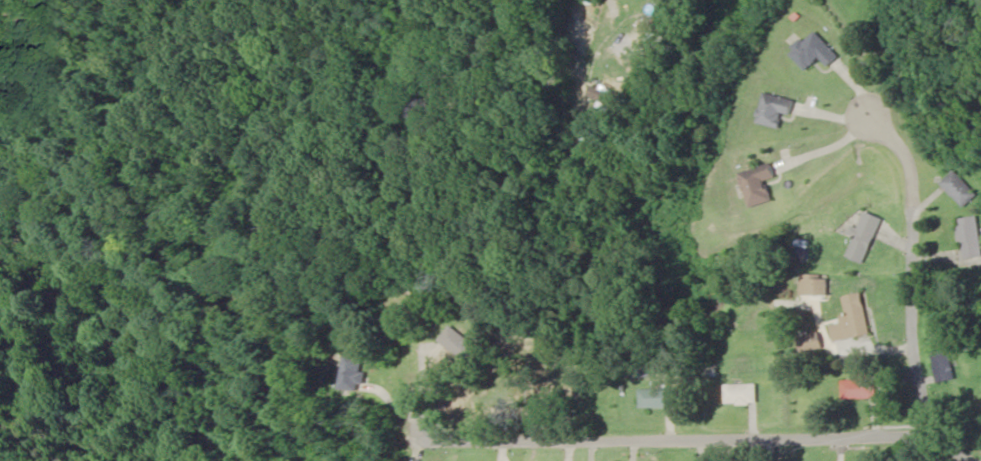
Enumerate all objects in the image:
building: (813, 51)
building: (604, 97)
building: (775, 109)
building: (756, 184)
building: (959, 188)
building: (866, 237)
building: (969, 237)
road: (906, 272)
building: (821, 286)
building: (853, 319)
building: (810, 341)
building: (460, 343)
building: (944, 364)
building: (352, 373)
building: (862, 384)
building: (742, 393)
building: (658, 398)
road: (705, 435)

